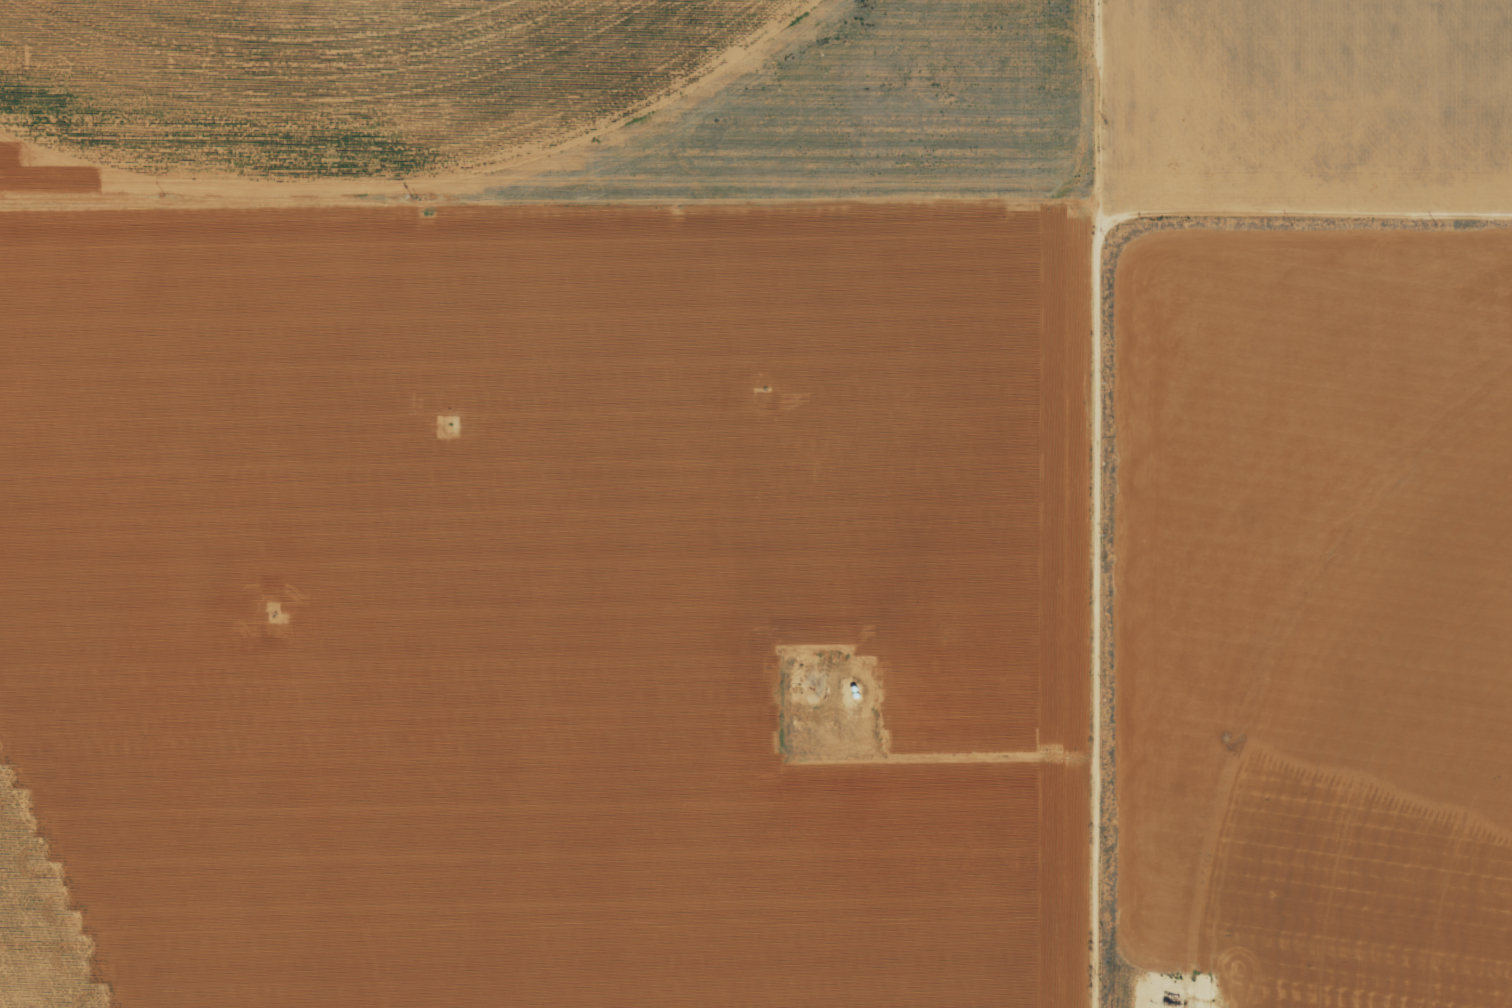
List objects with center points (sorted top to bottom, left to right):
road: (1311, 195)
road: (1107, 504)
petroleum well: (1164, 1002)

